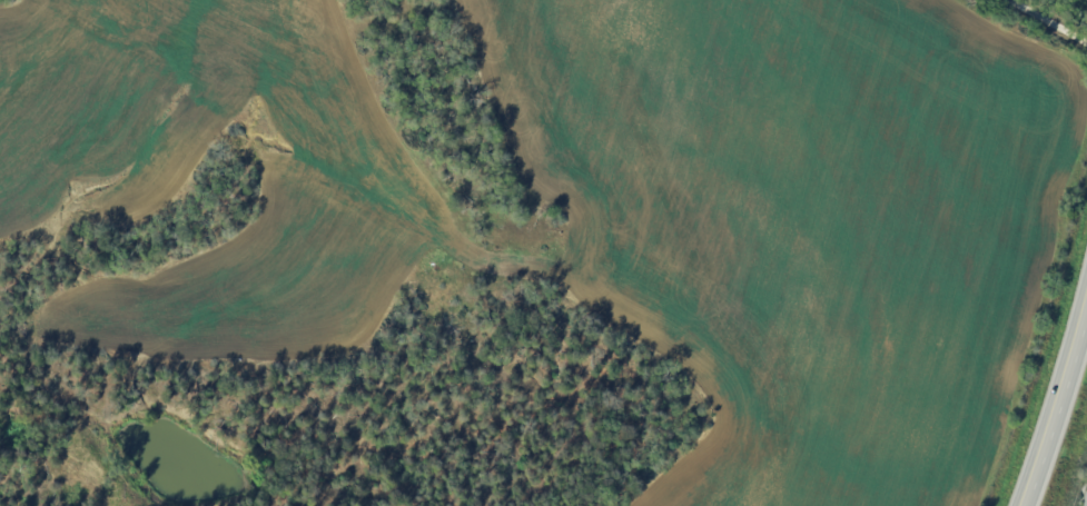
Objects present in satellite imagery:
road: (1044, 23)
road: (1058, 410)
road: (887, 499)

